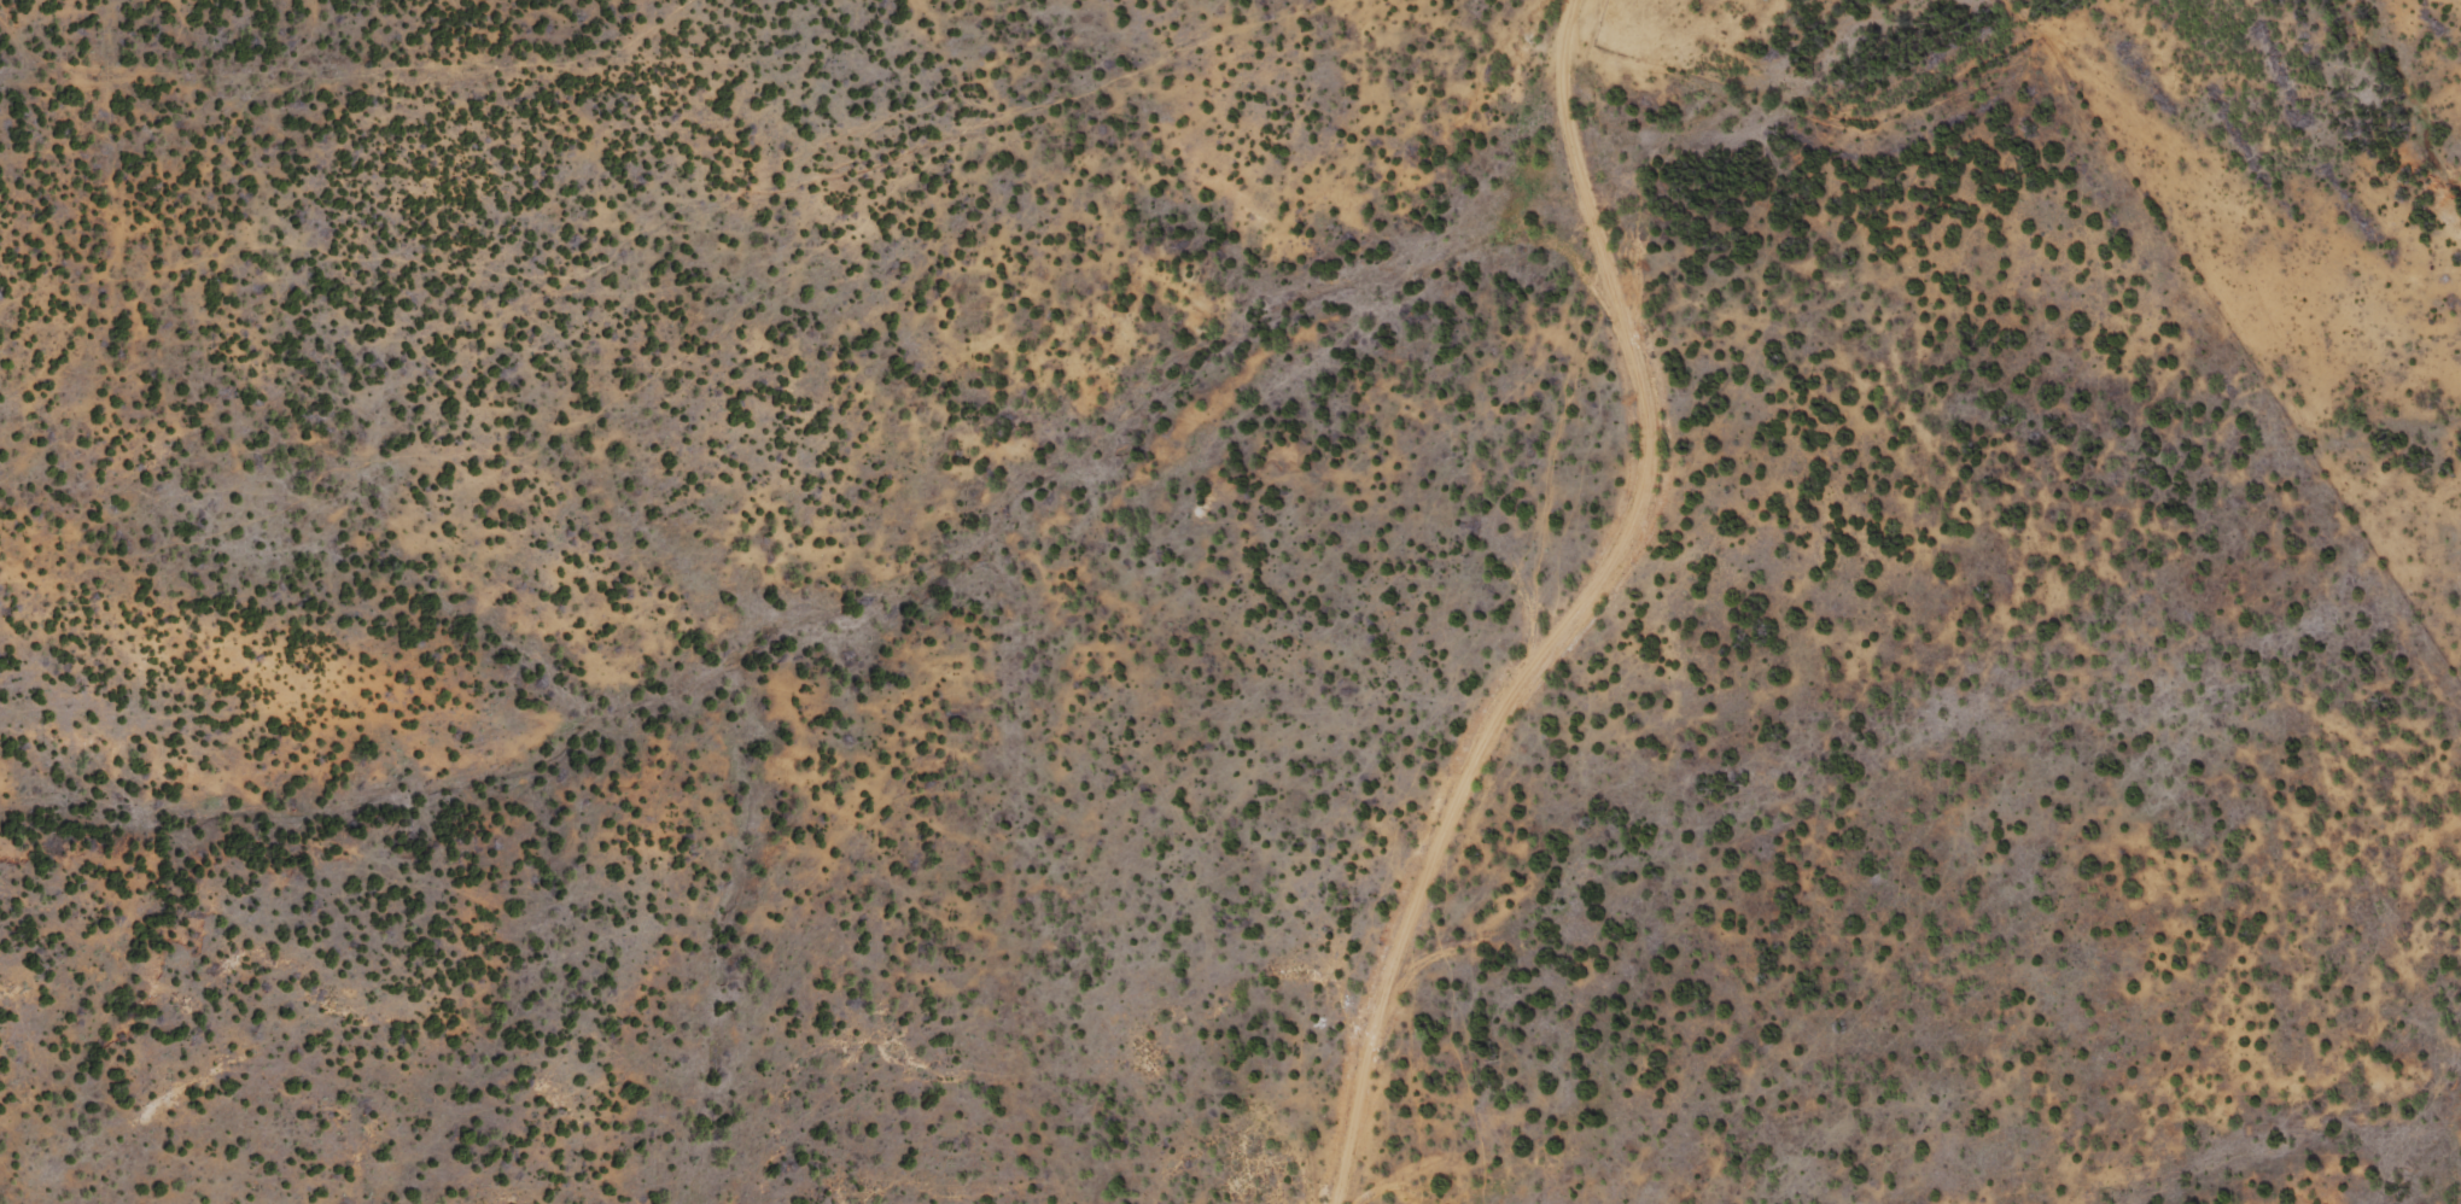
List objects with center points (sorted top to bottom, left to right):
road: (1544, 601)

